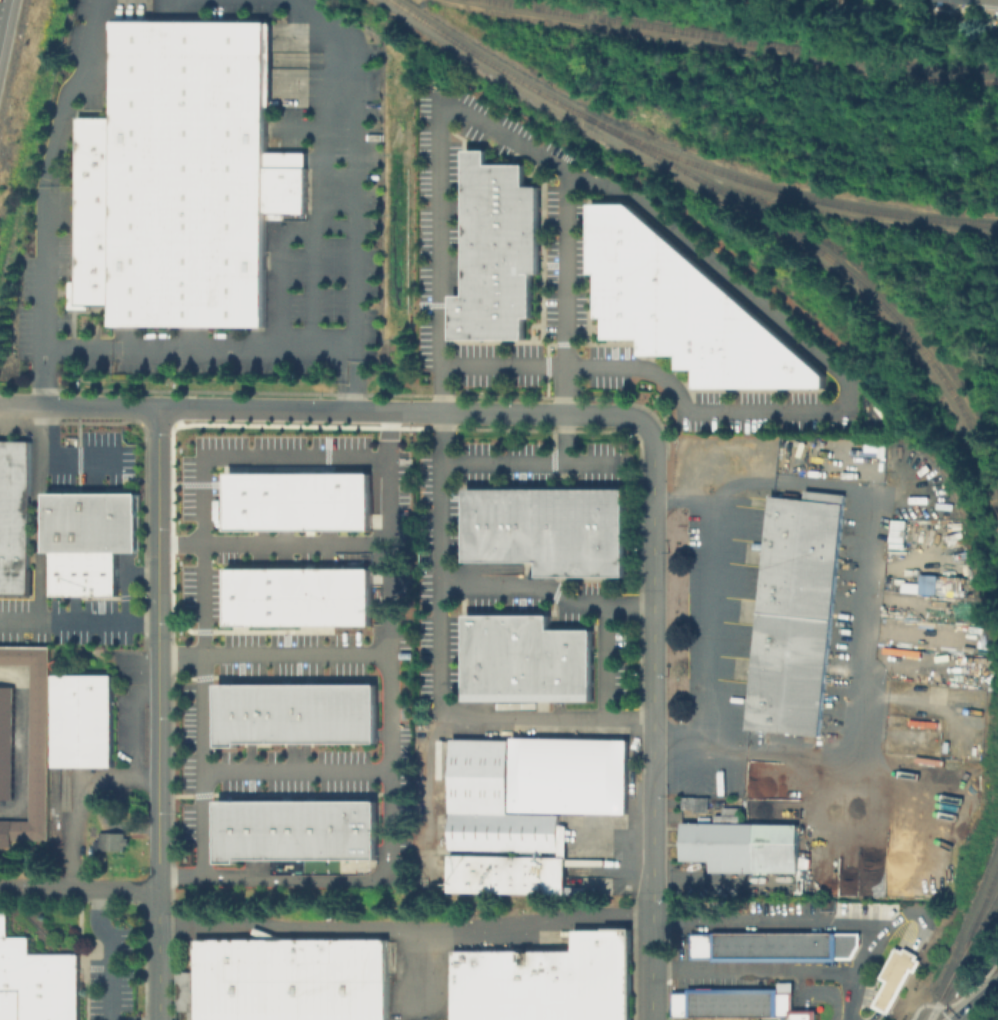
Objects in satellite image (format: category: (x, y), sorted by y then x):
road: (232, 1)
building: (965, 2)
building: (991, 4)
railway: (747, 41)
railway: (497, 67)
road: (313, 128)
road: (49, 172)
building: (181, 179)
road: (324, 183)
railway: (798, 195)
road: (301, 230)
building: (497, 250)
railway: (840, 268)
building: (684, 309)
road: (355, 314)
road: (566, 317)
road: (355, 379)
road: (78, 405)
road: (762, 410)
road: (401, 412)
road: (84, 460)
road: (534, 461)
road: (40, 483)
building: (301, 501)
building: (807, 511)
building: (14, 519)
building: (68, 522)
building: (115, 522)
building: (548, 529)
road: (158, 532)
building: (802, 543)
road: (272, 544)
road: (652, 572)
building: (798, 572)
building: (84, 573)
road: (141, 574)
road: (200, 576)
road: (124, 588)
road: (547, 589)
building: (302, 597)
building: (796, 601)
road: (712, 616)
road: (858, 616)
road: (78, 619)
building: (792, 629)
road: (273, 653)
building: (526, 659)
road: (608, 659)
building: (790, 659)
road: (441, 668)
building: (786, 689)
building: (298, 711)
building: (783, 719)
building: (82, 720)
road: (130, 724)
building: (6, 742)
building: (32, 743)
road: (390, 757)
road: (297, 769)
road: (158, 774)
building: (568, 775)
road: (74, 796)
building: (694, 803)
building: (492, 805)
road: (651, 810)
road: (109, 824)
building: (298, 828)
building: (110, 841)
building: (741, 845)
building: (505, 873)
road: (78, 888)
railway: (978, 909)
road: (893, 919)
road: (812, 924)
railway: (978, 924)
road: (404, 930)
building: (738, 946)
building: (820, 946)
road: (112, 952)
road: (157, 955)
road: (651, 958)
road: (416, 966)
road: (759, 970)
building: (894, 978)
building: (290, 979)
building: (36, 981)
building: (546, 981)
road: (894, 981)
road: (802, 985)
railway: (942, 990)
building: (186, 995)
road: (823, 995)
road: (976, 1001)
building: (753, 1002)
building: (701, 1003)
building: (790, 1004)
road: (801, 1015)
road: (874, 1015)
road: (996, 1018)

